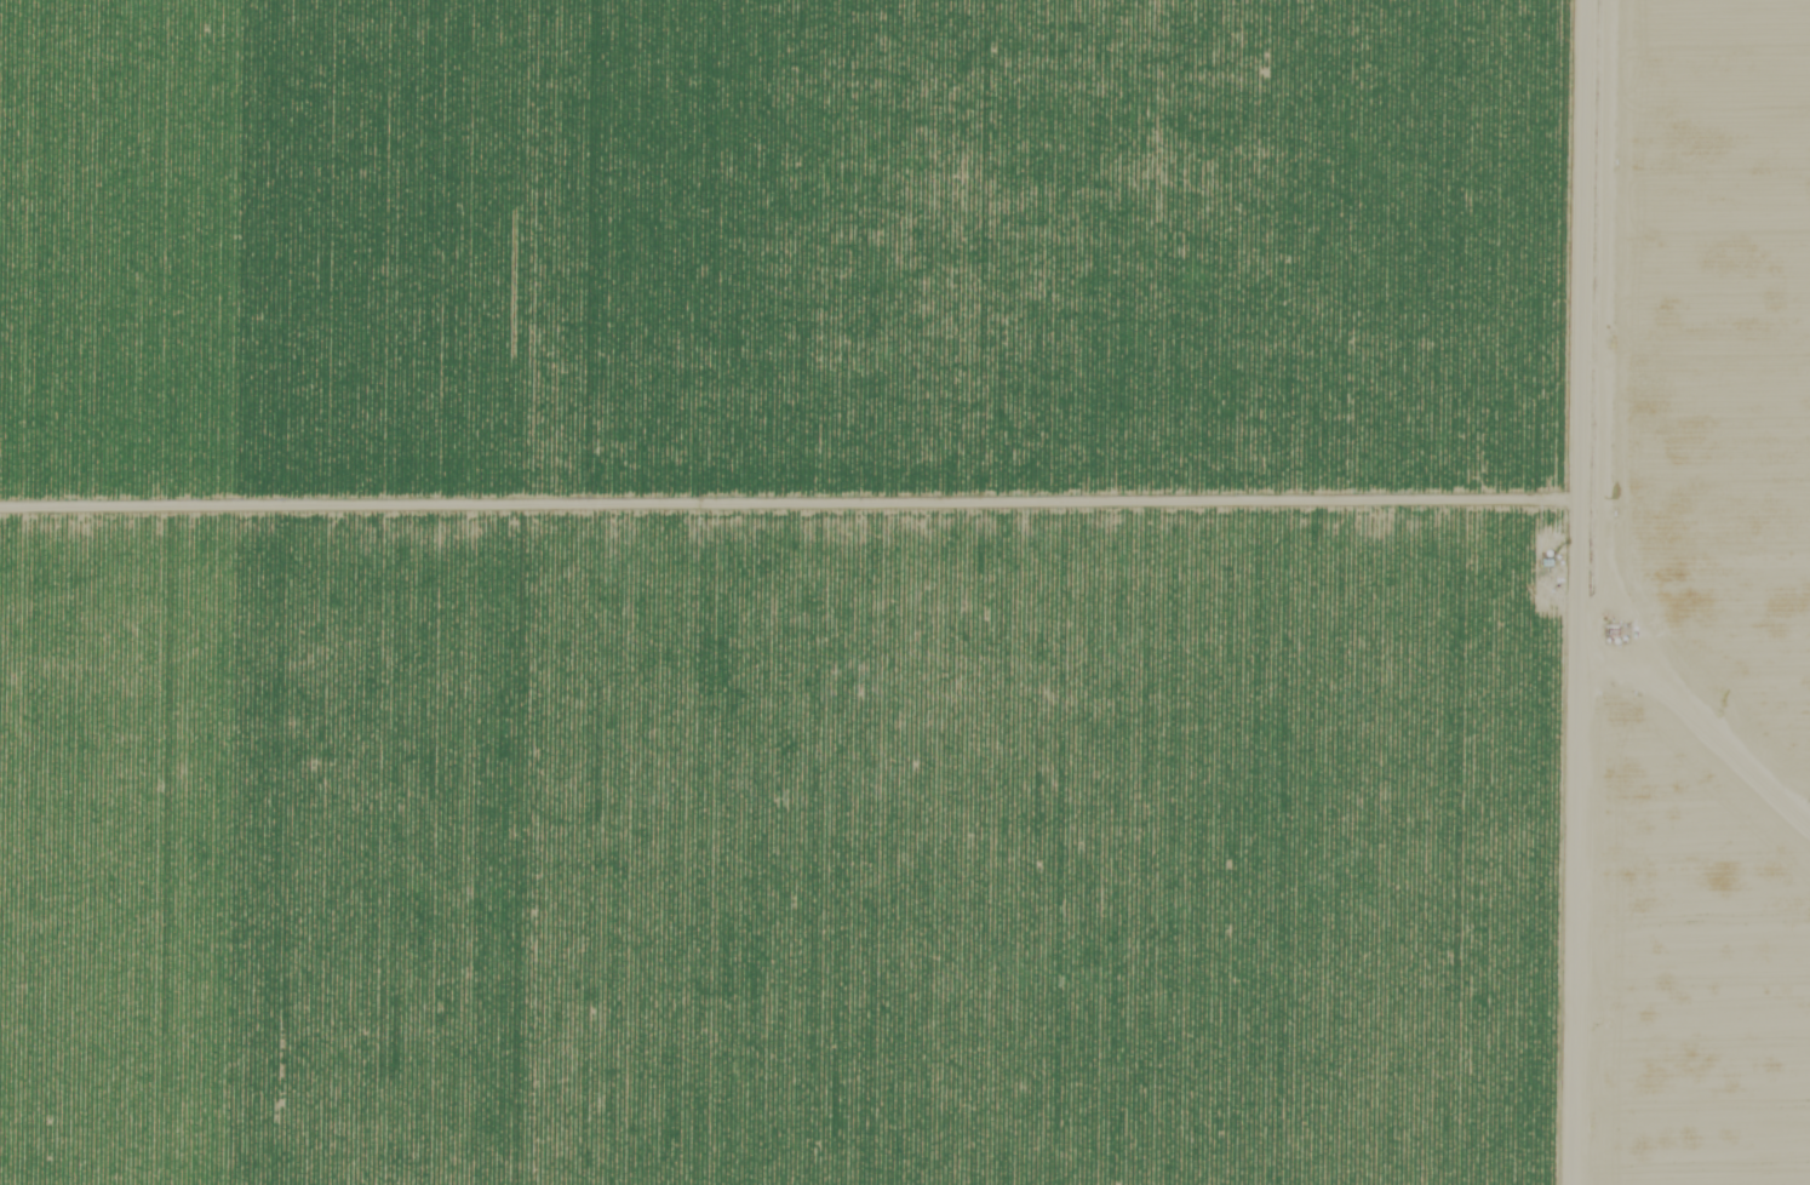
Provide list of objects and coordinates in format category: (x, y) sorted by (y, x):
road: (1585, 447)
crop: (796, 591)
crop: (1701, 600)

